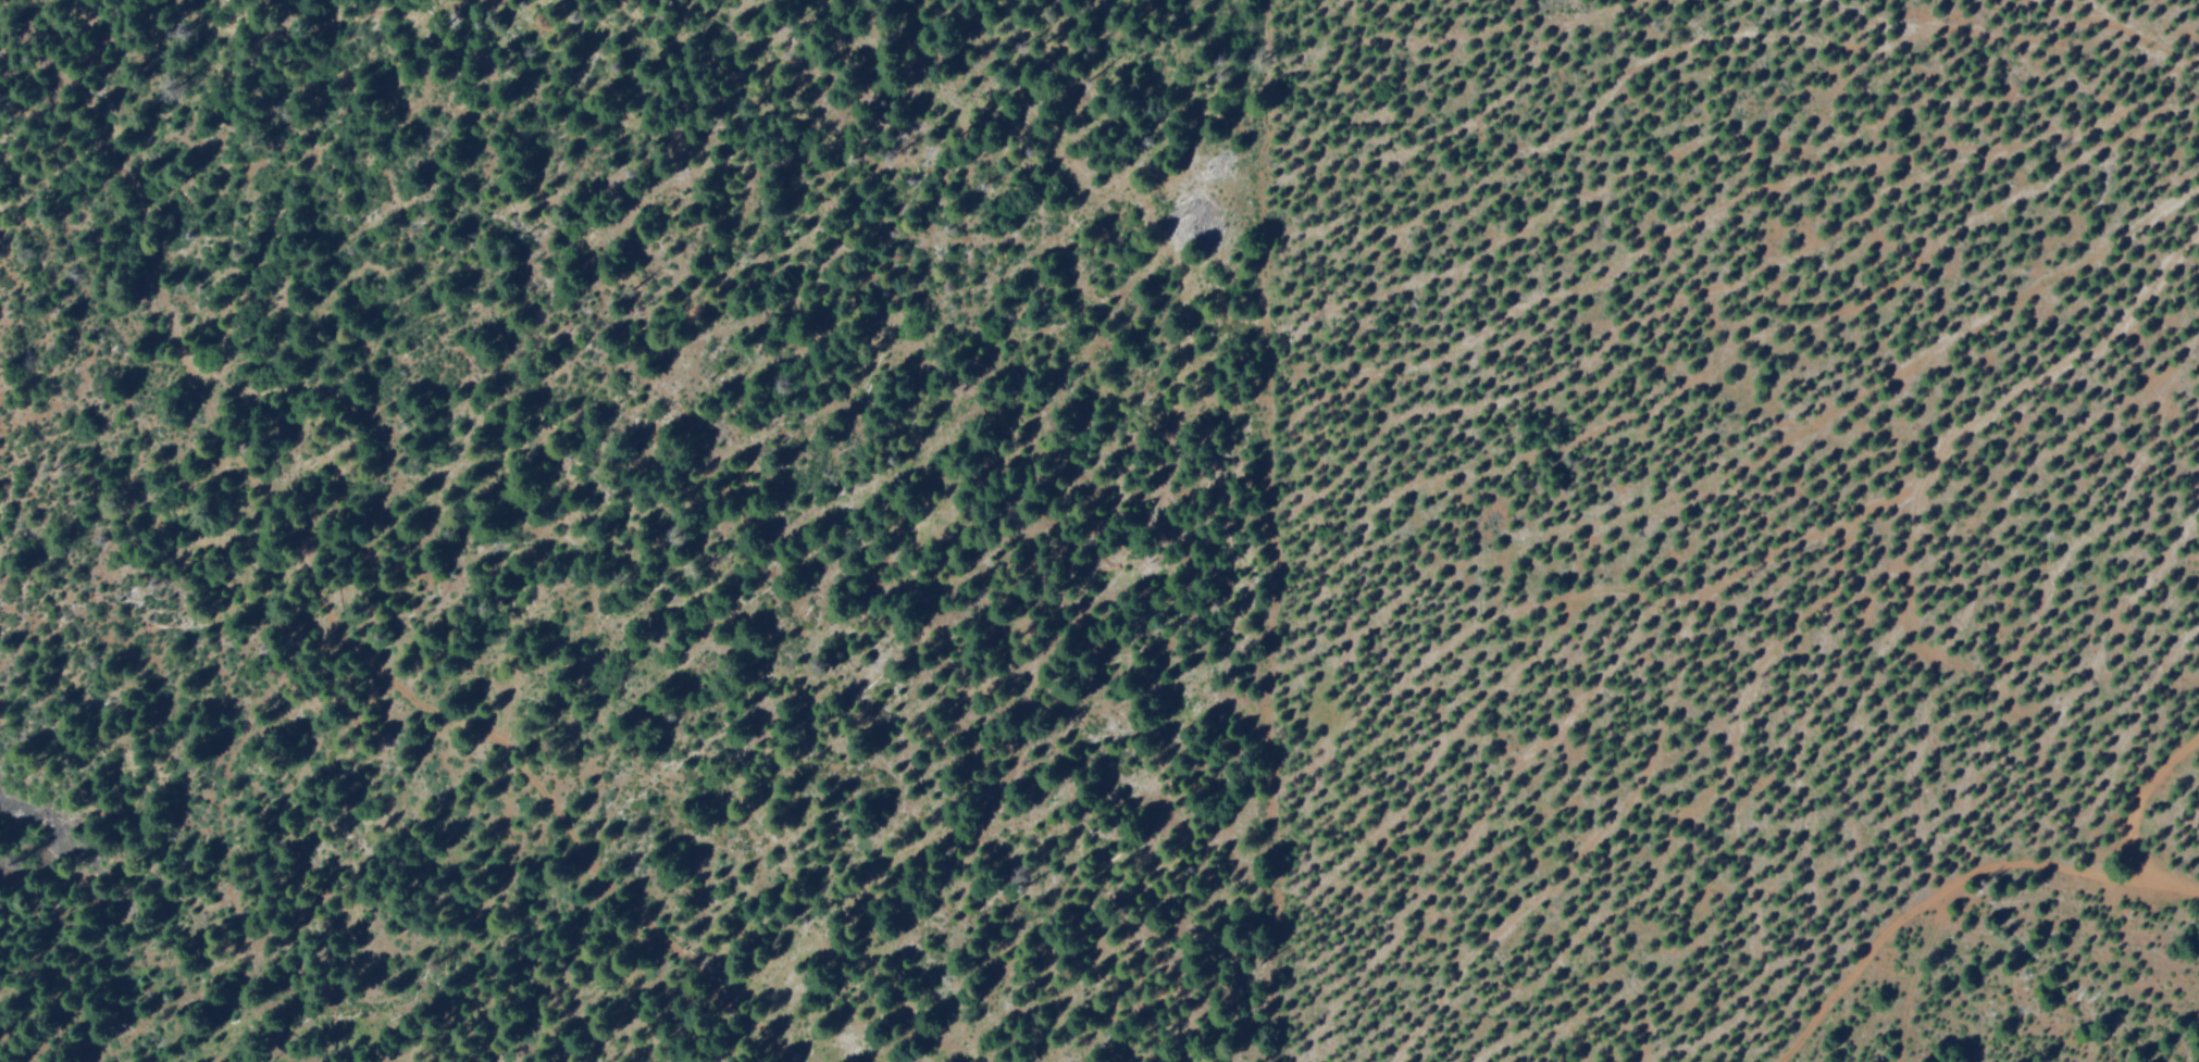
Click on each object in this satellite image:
road: (1952, 882)

